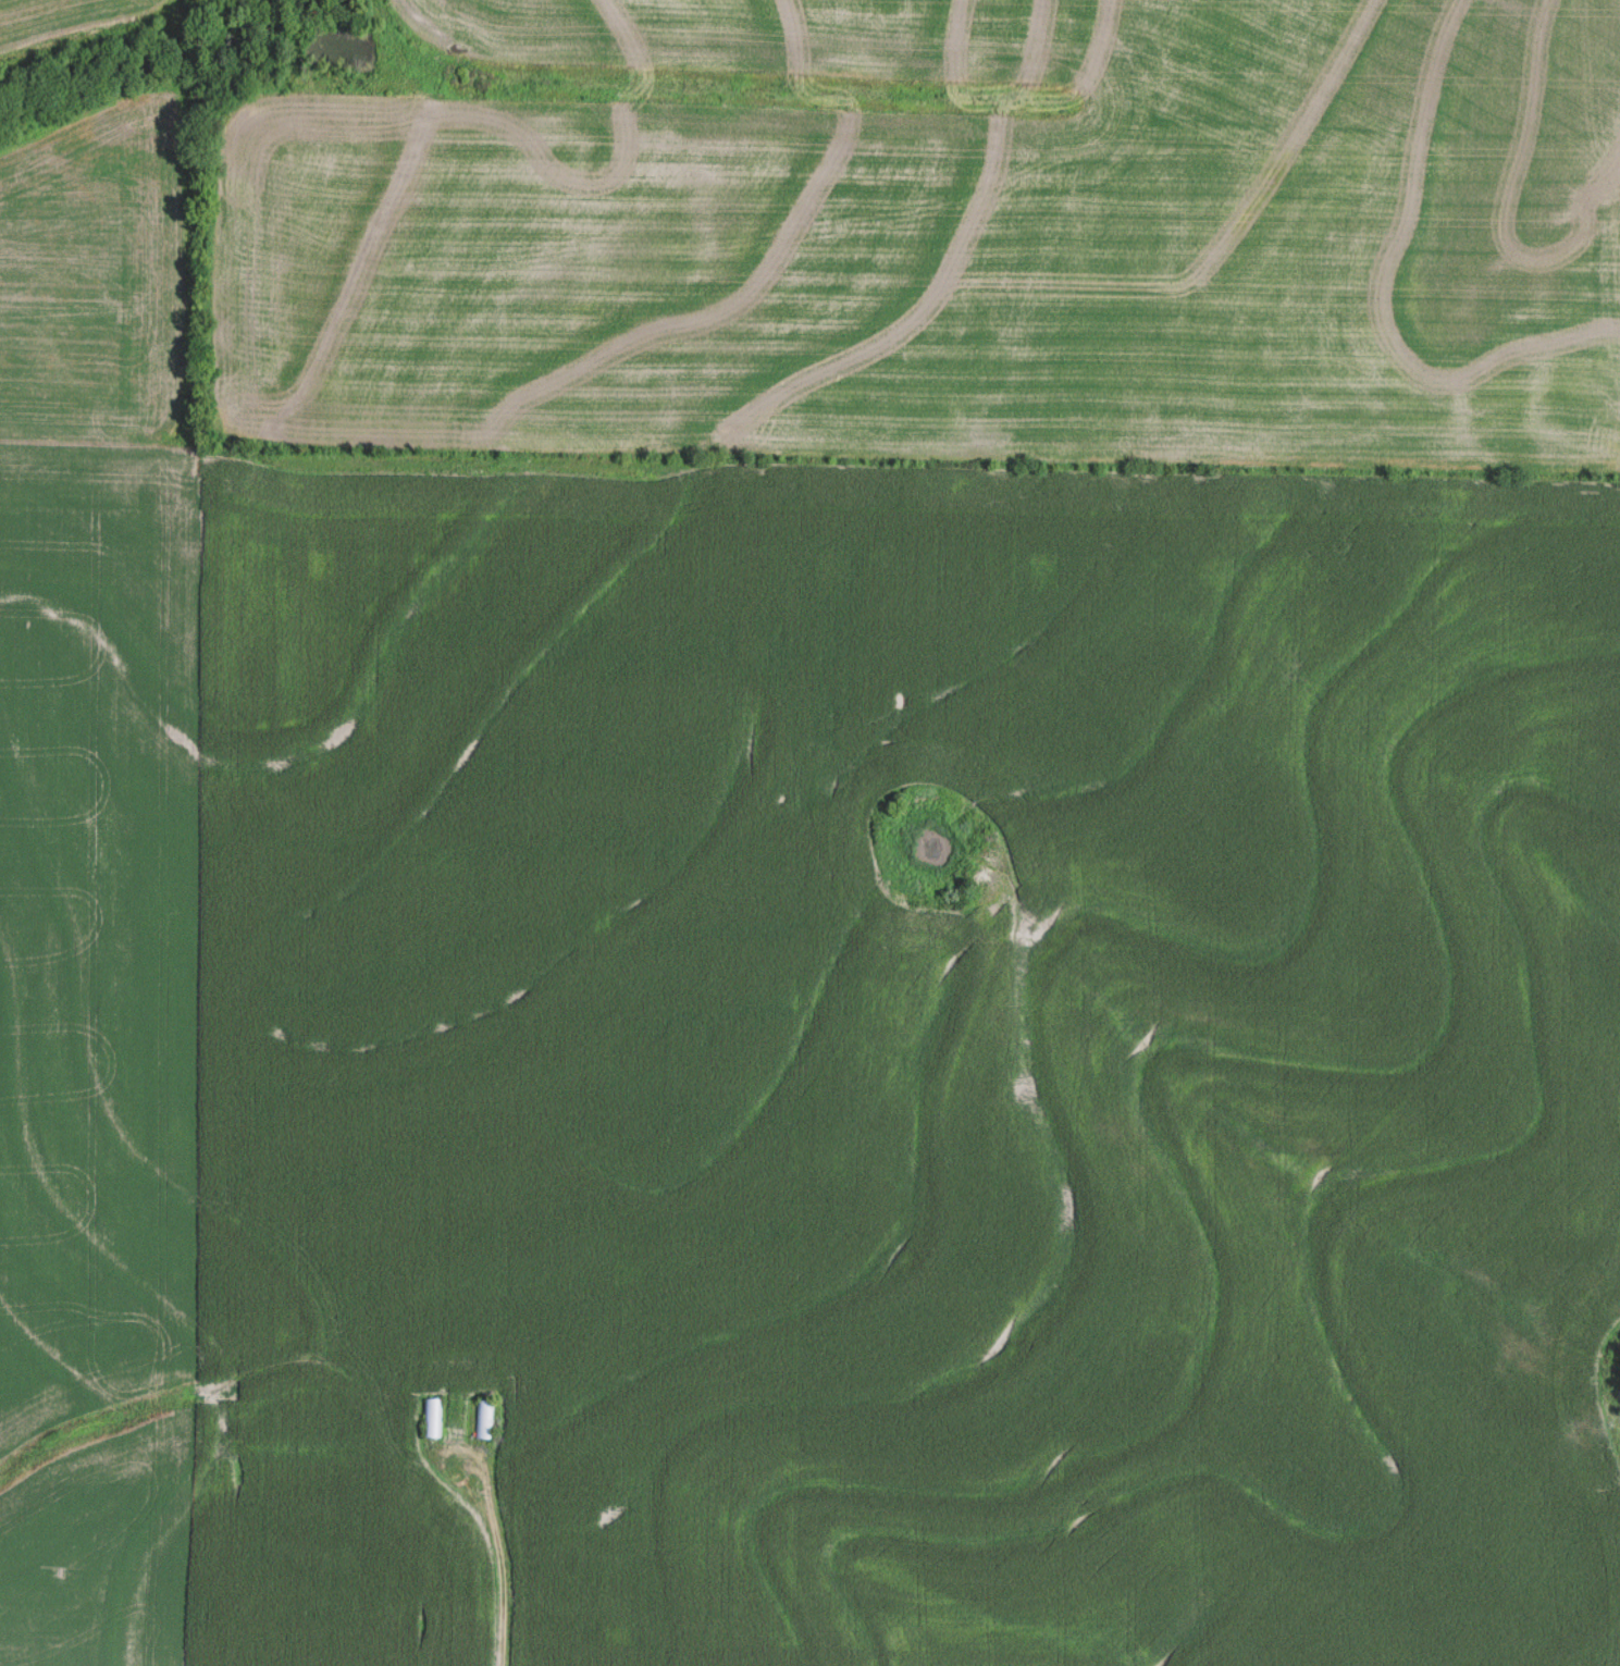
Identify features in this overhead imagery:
building: (432, 1417)
building: (484, 1419)

